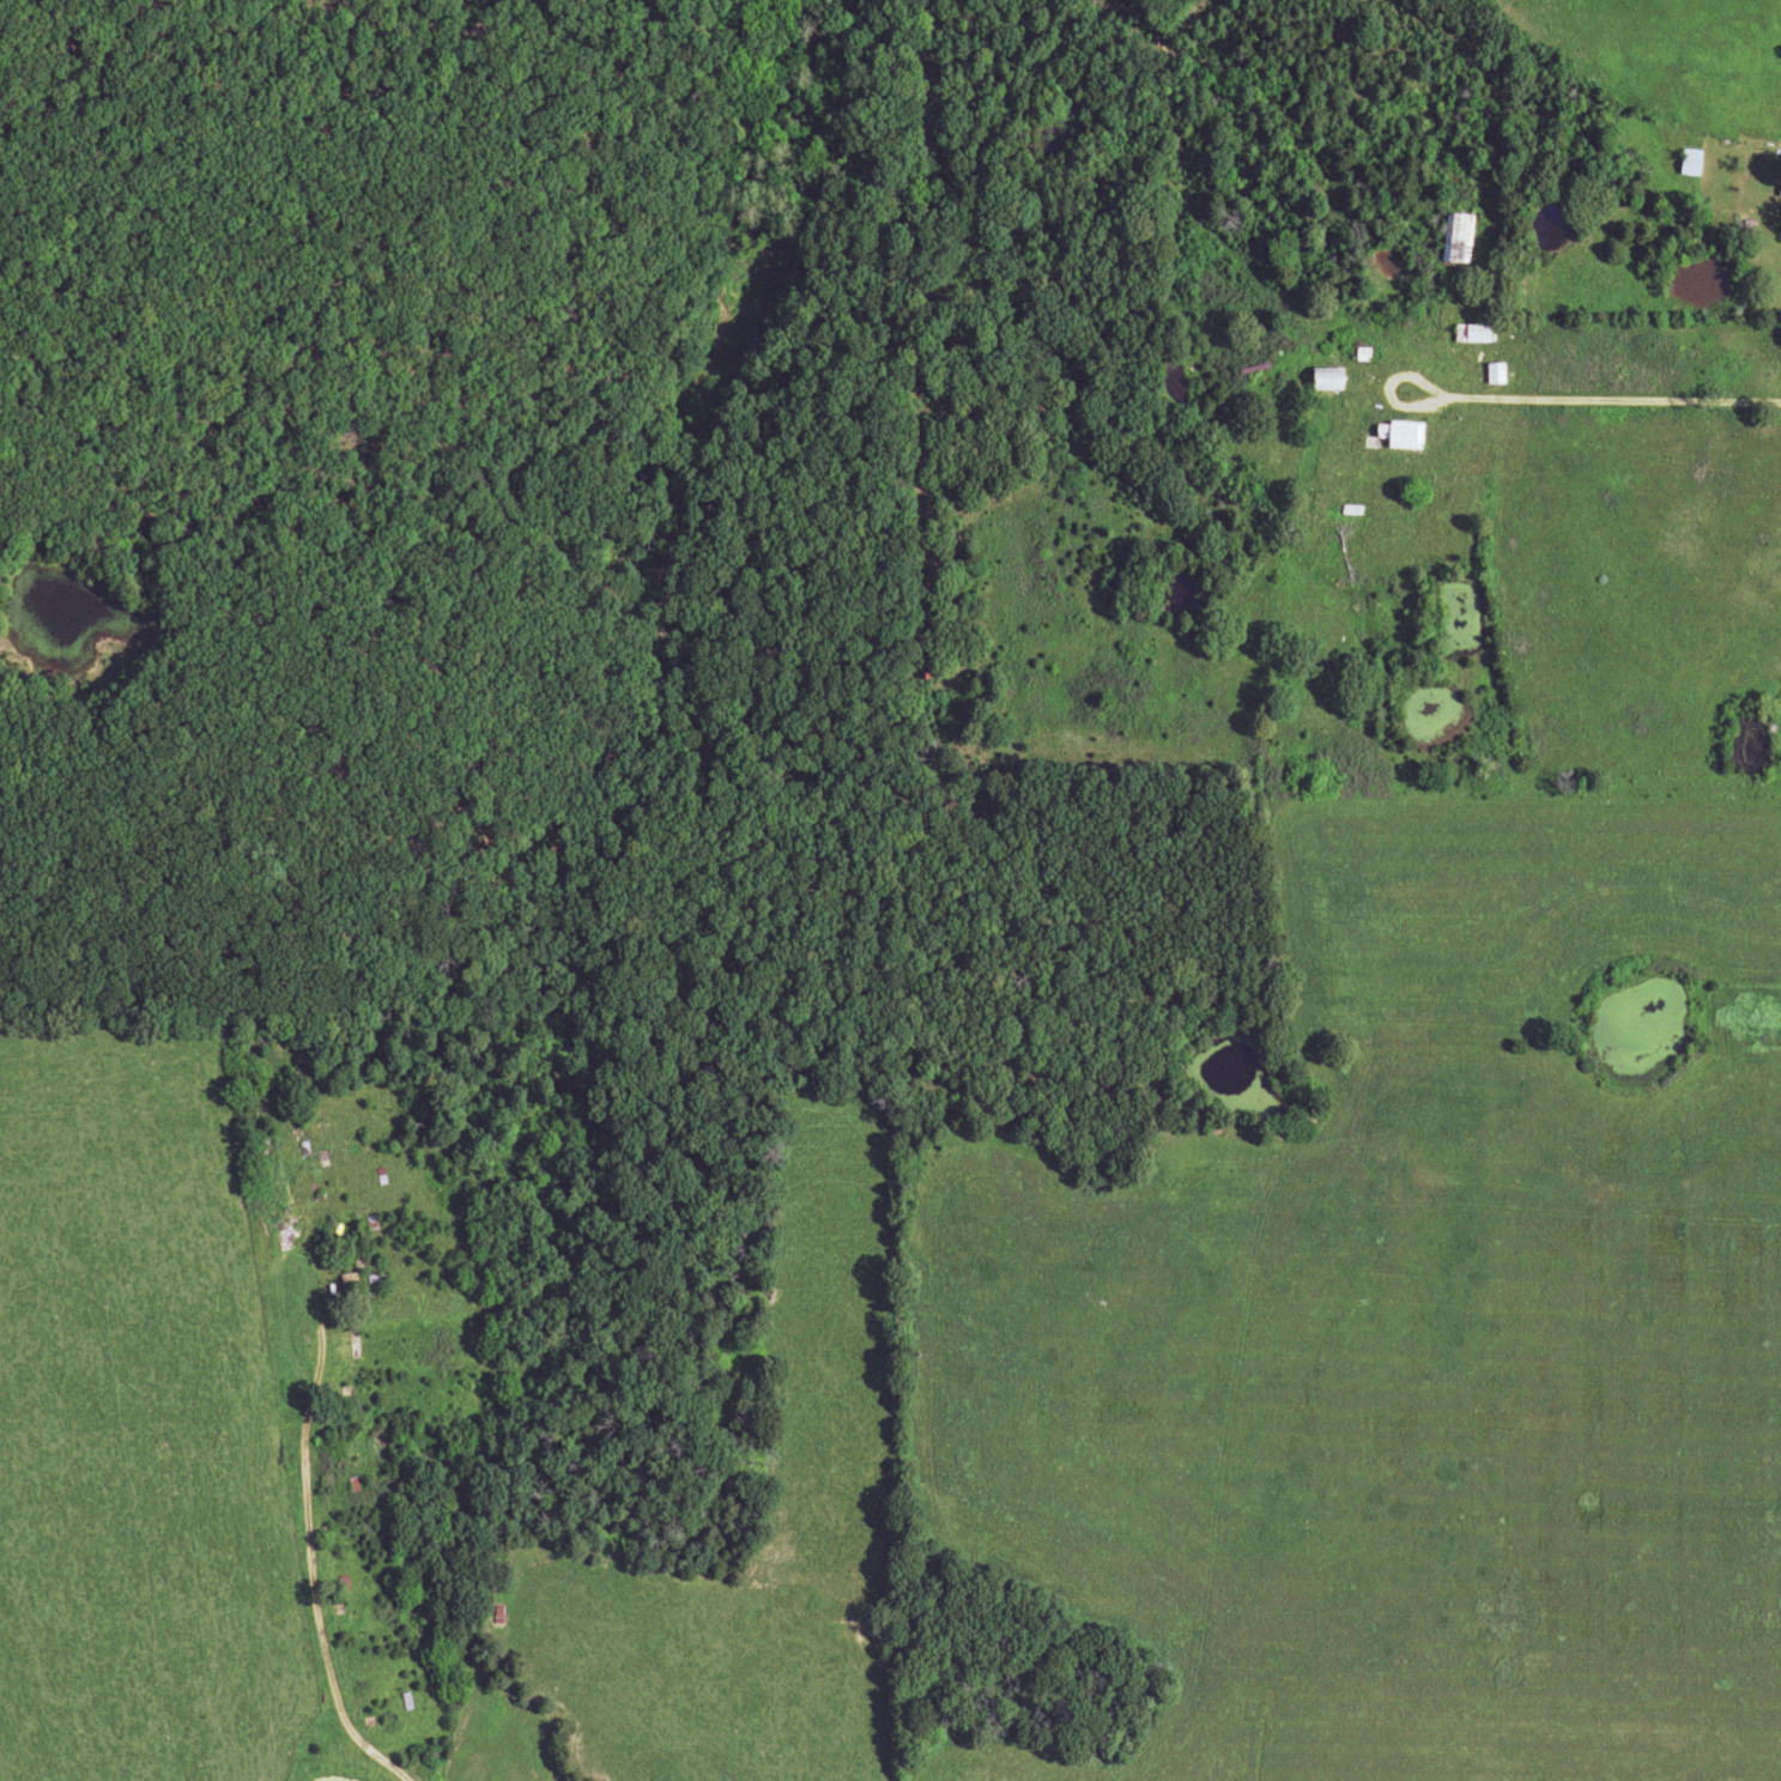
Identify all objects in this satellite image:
building: (1686, 163)
building: (1453, 240)
building: (1468, 334)
building: (1250, 368)
building: (1491, 375)
building: (1323, 380)
road: (1387, 388)
road: (1615, 396)
building: (1395, 437)

